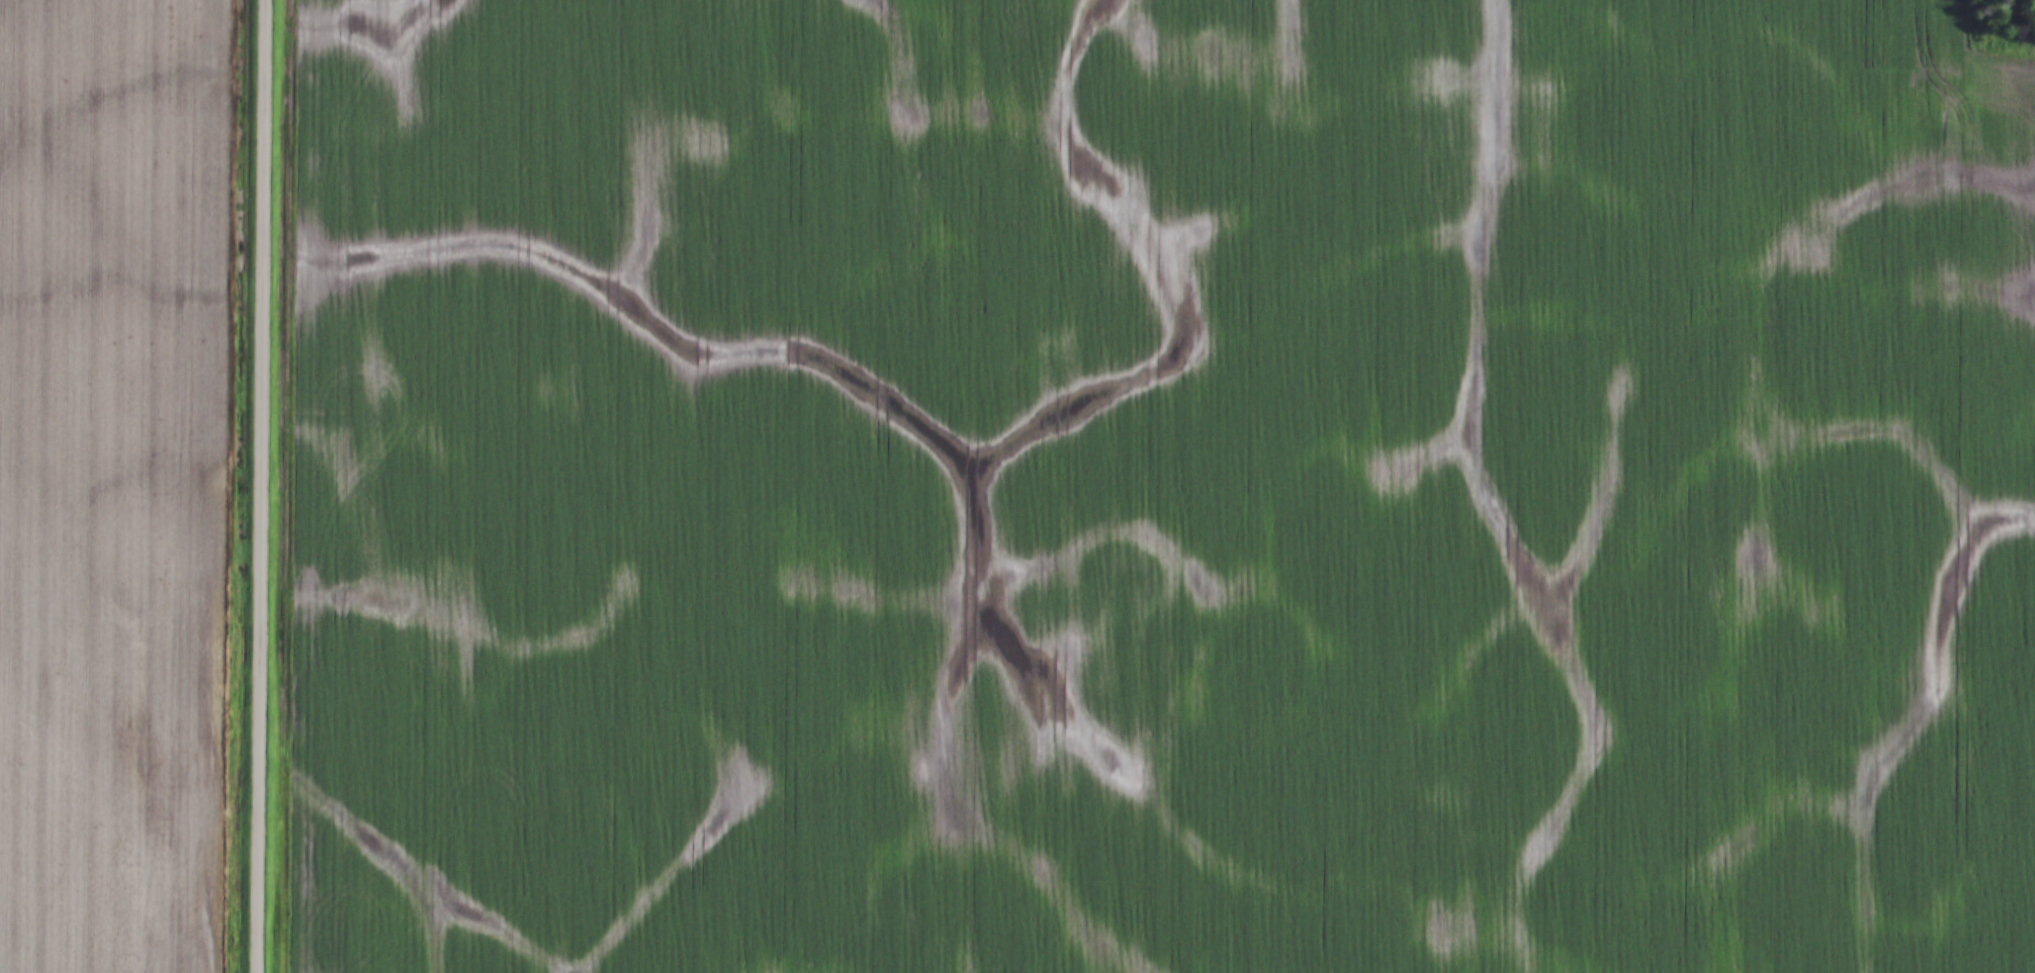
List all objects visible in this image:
road: (263, 486)

